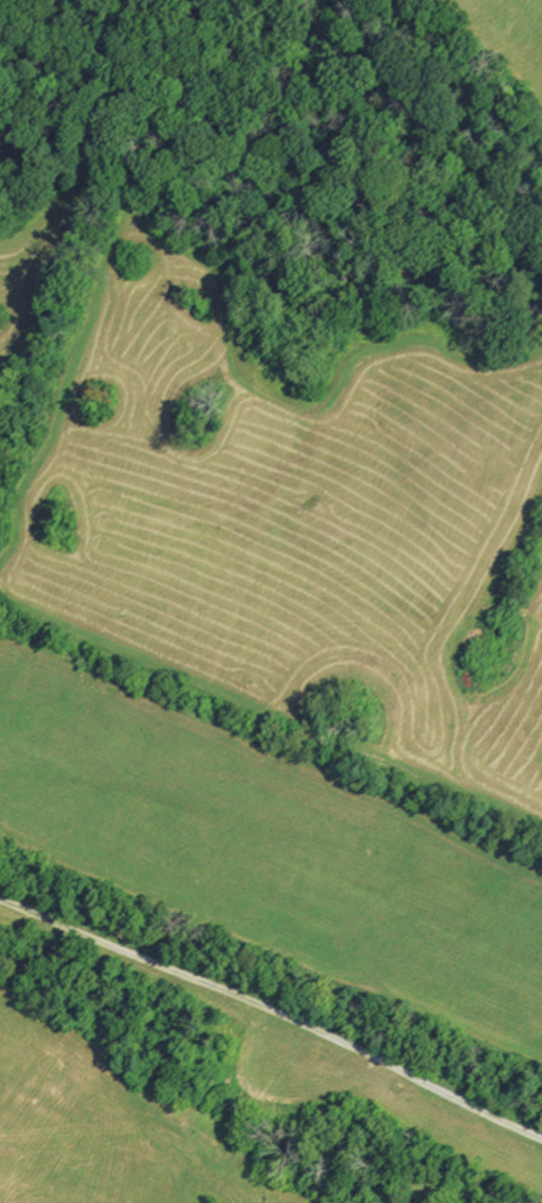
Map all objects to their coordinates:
crop: (16, 292)
road: (275, 1011)

